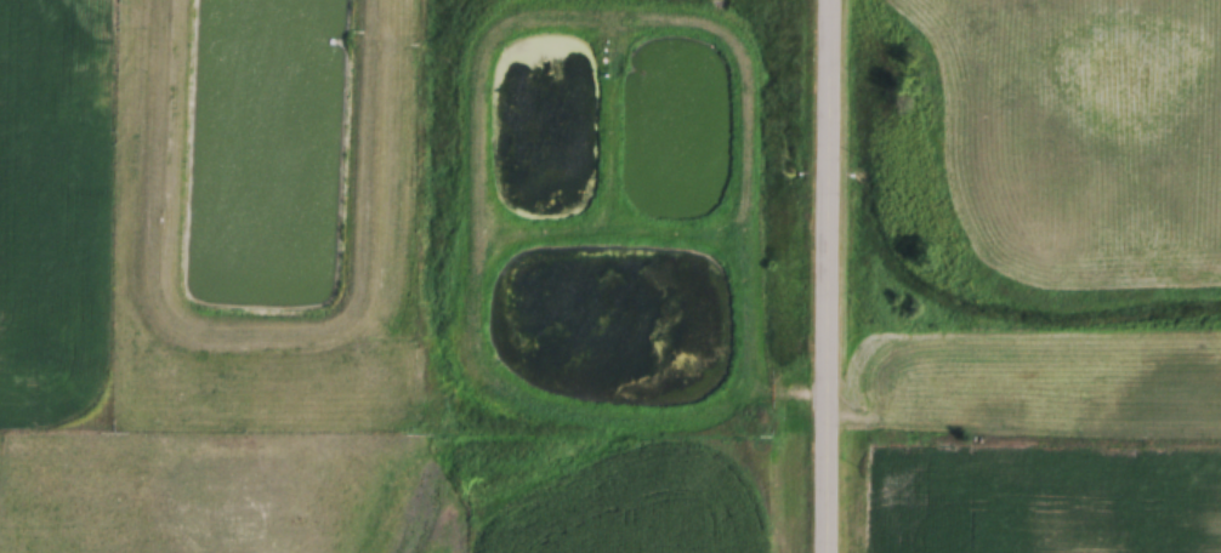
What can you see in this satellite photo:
road: (829, 275)

